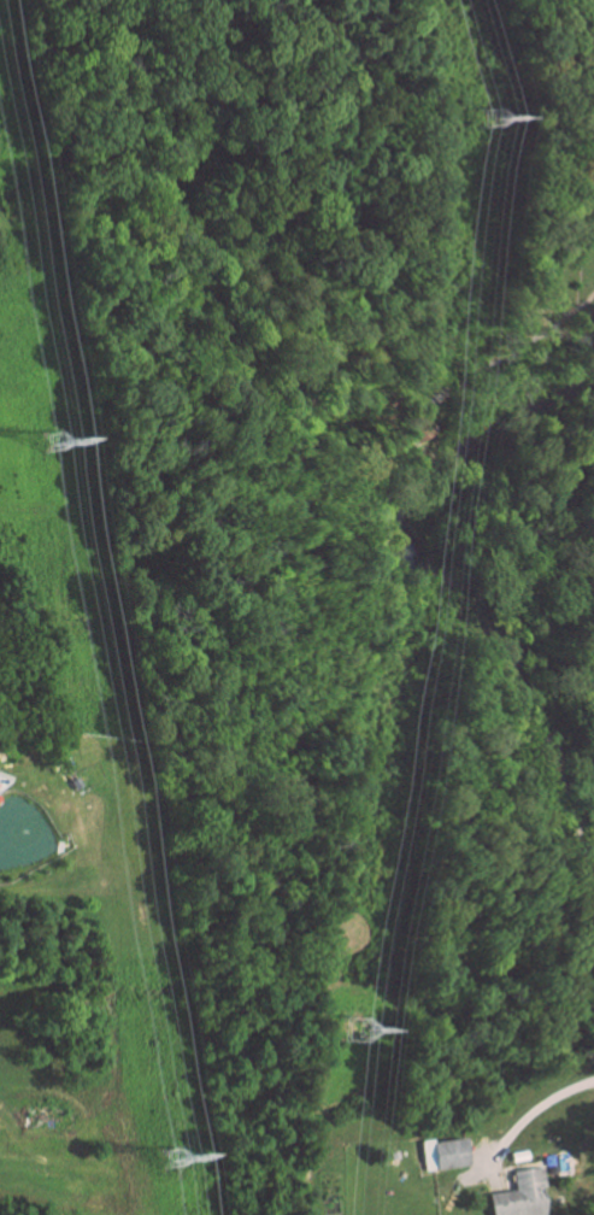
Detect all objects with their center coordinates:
power tower: (484, 119)
power tower: (54, 439)
power tower: (354, 1033)
road: (537, 1104)
building: (441, 1152)
power tower: (172, 1161)
building: (518, 1192)

